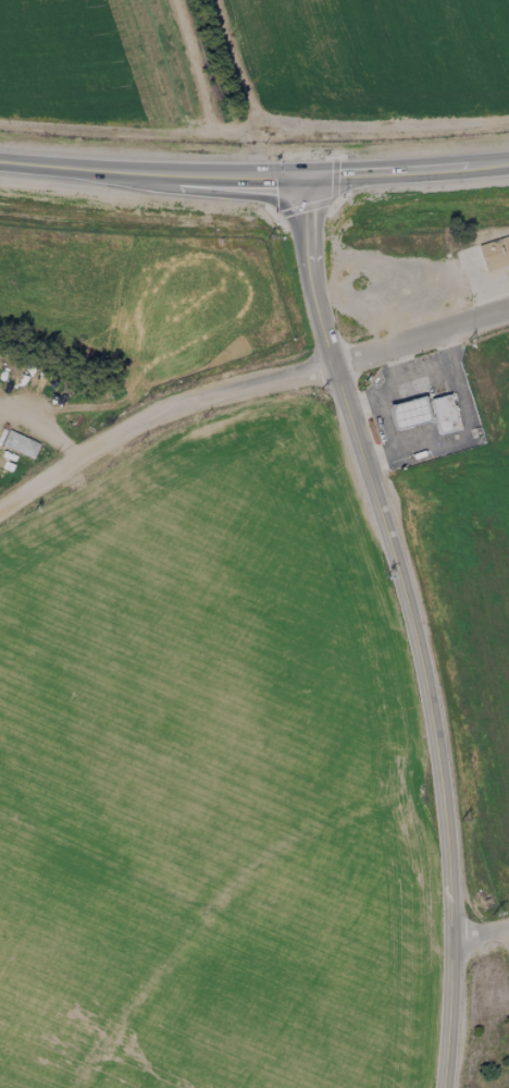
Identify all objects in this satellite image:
road: (253, 174)
building: (494, 253)
road: (432, 379)
road: (245, 384)
road: (362, 404)
road: (380, 407)
building: (408, 413)
building: (443, 413)
gas station: (443, 413)
road: (471, 417)
road: (42, 427)
building: (18, 443)
road: (410, 625)
road: (479, 931)
road: (507, 932)

